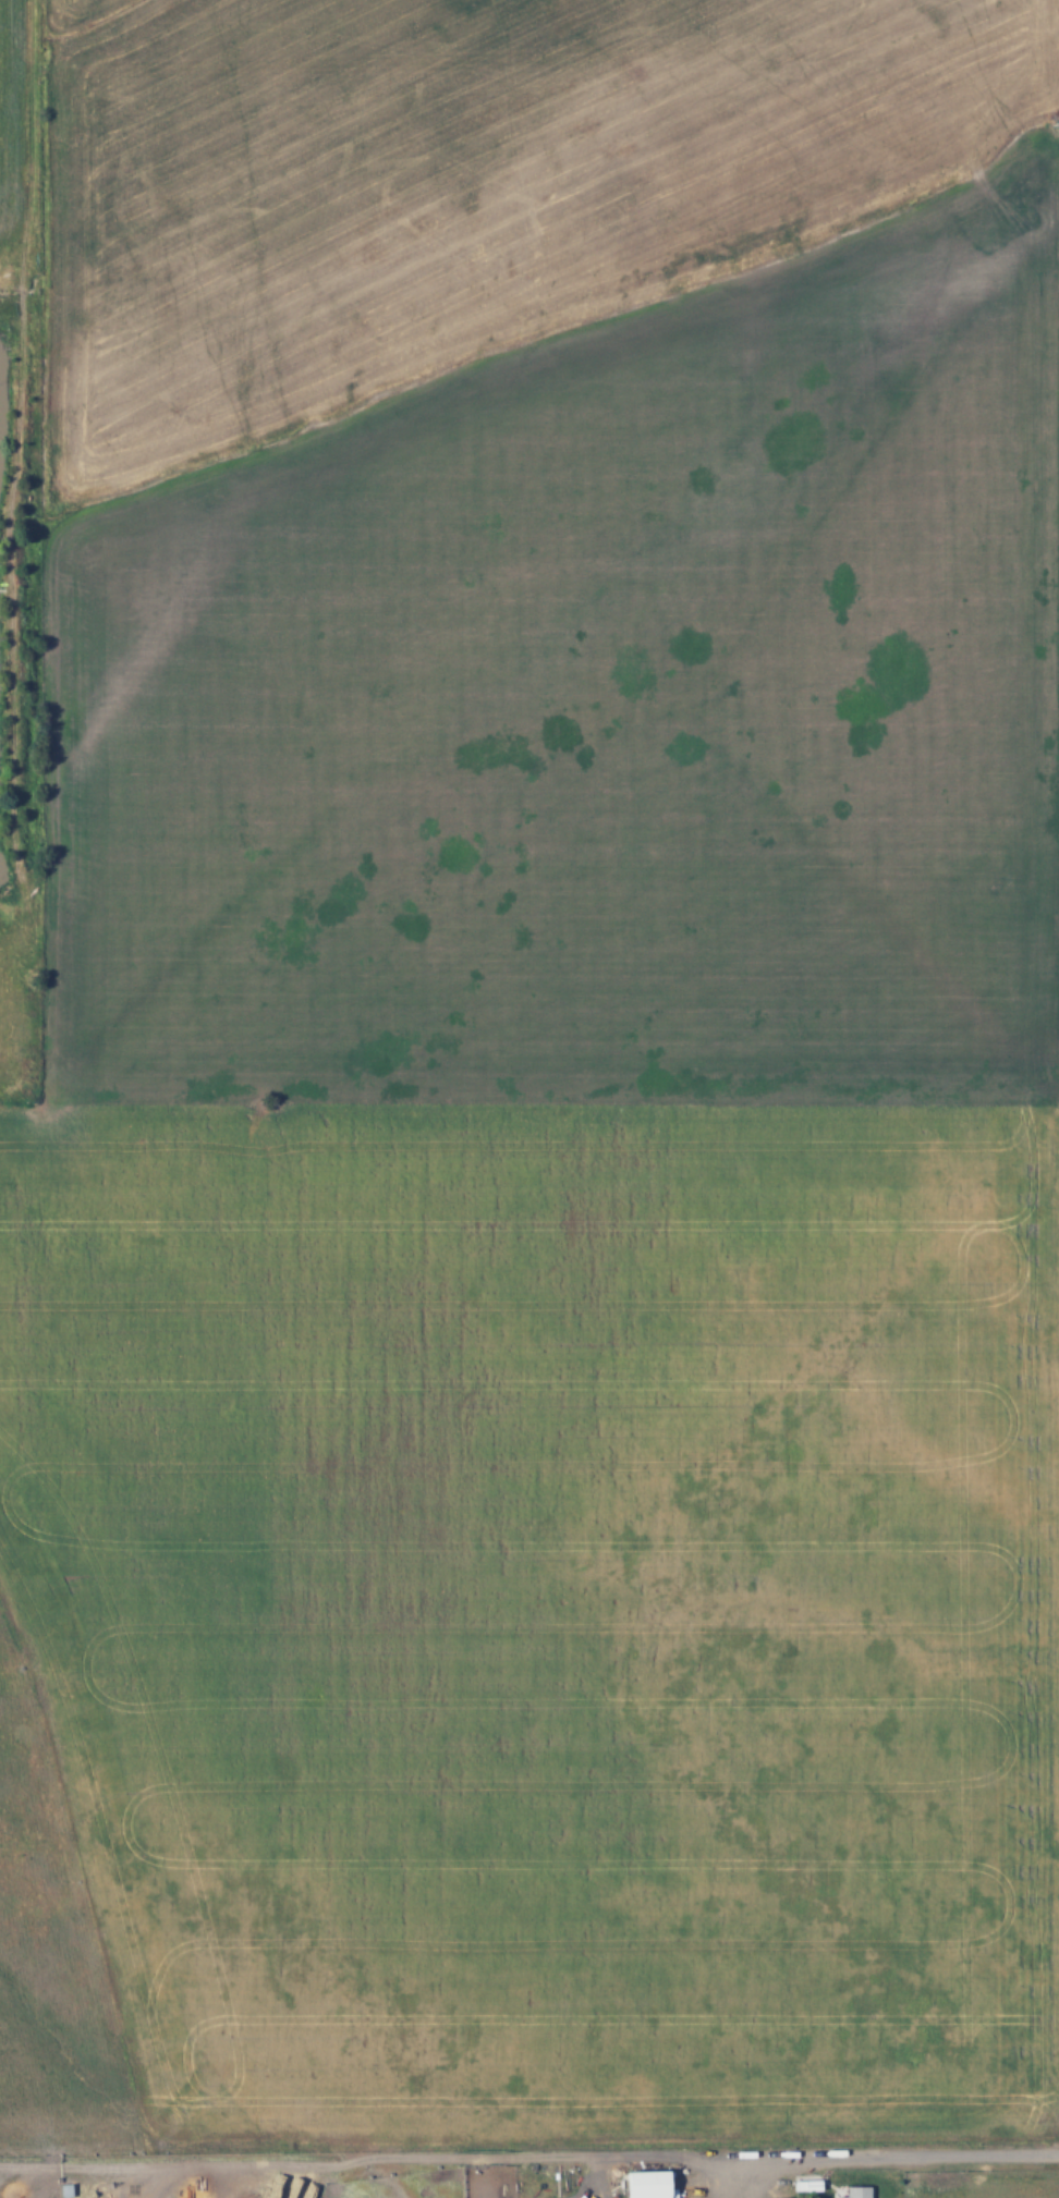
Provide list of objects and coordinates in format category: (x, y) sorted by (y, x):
road: (893, 2154)
building: (648, 2184)
building: (855, 2191)

